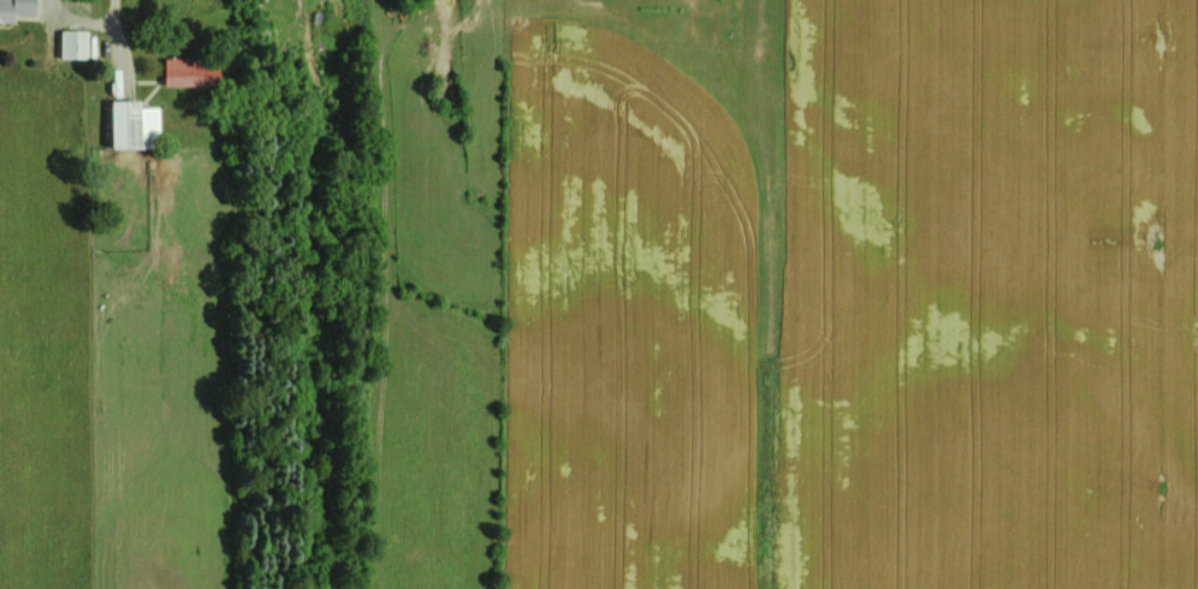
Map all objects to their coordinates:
building: (13, 7)
road: (85, 19)
building: (70, 43)
building: (188, 71)
building: (129, 125)

